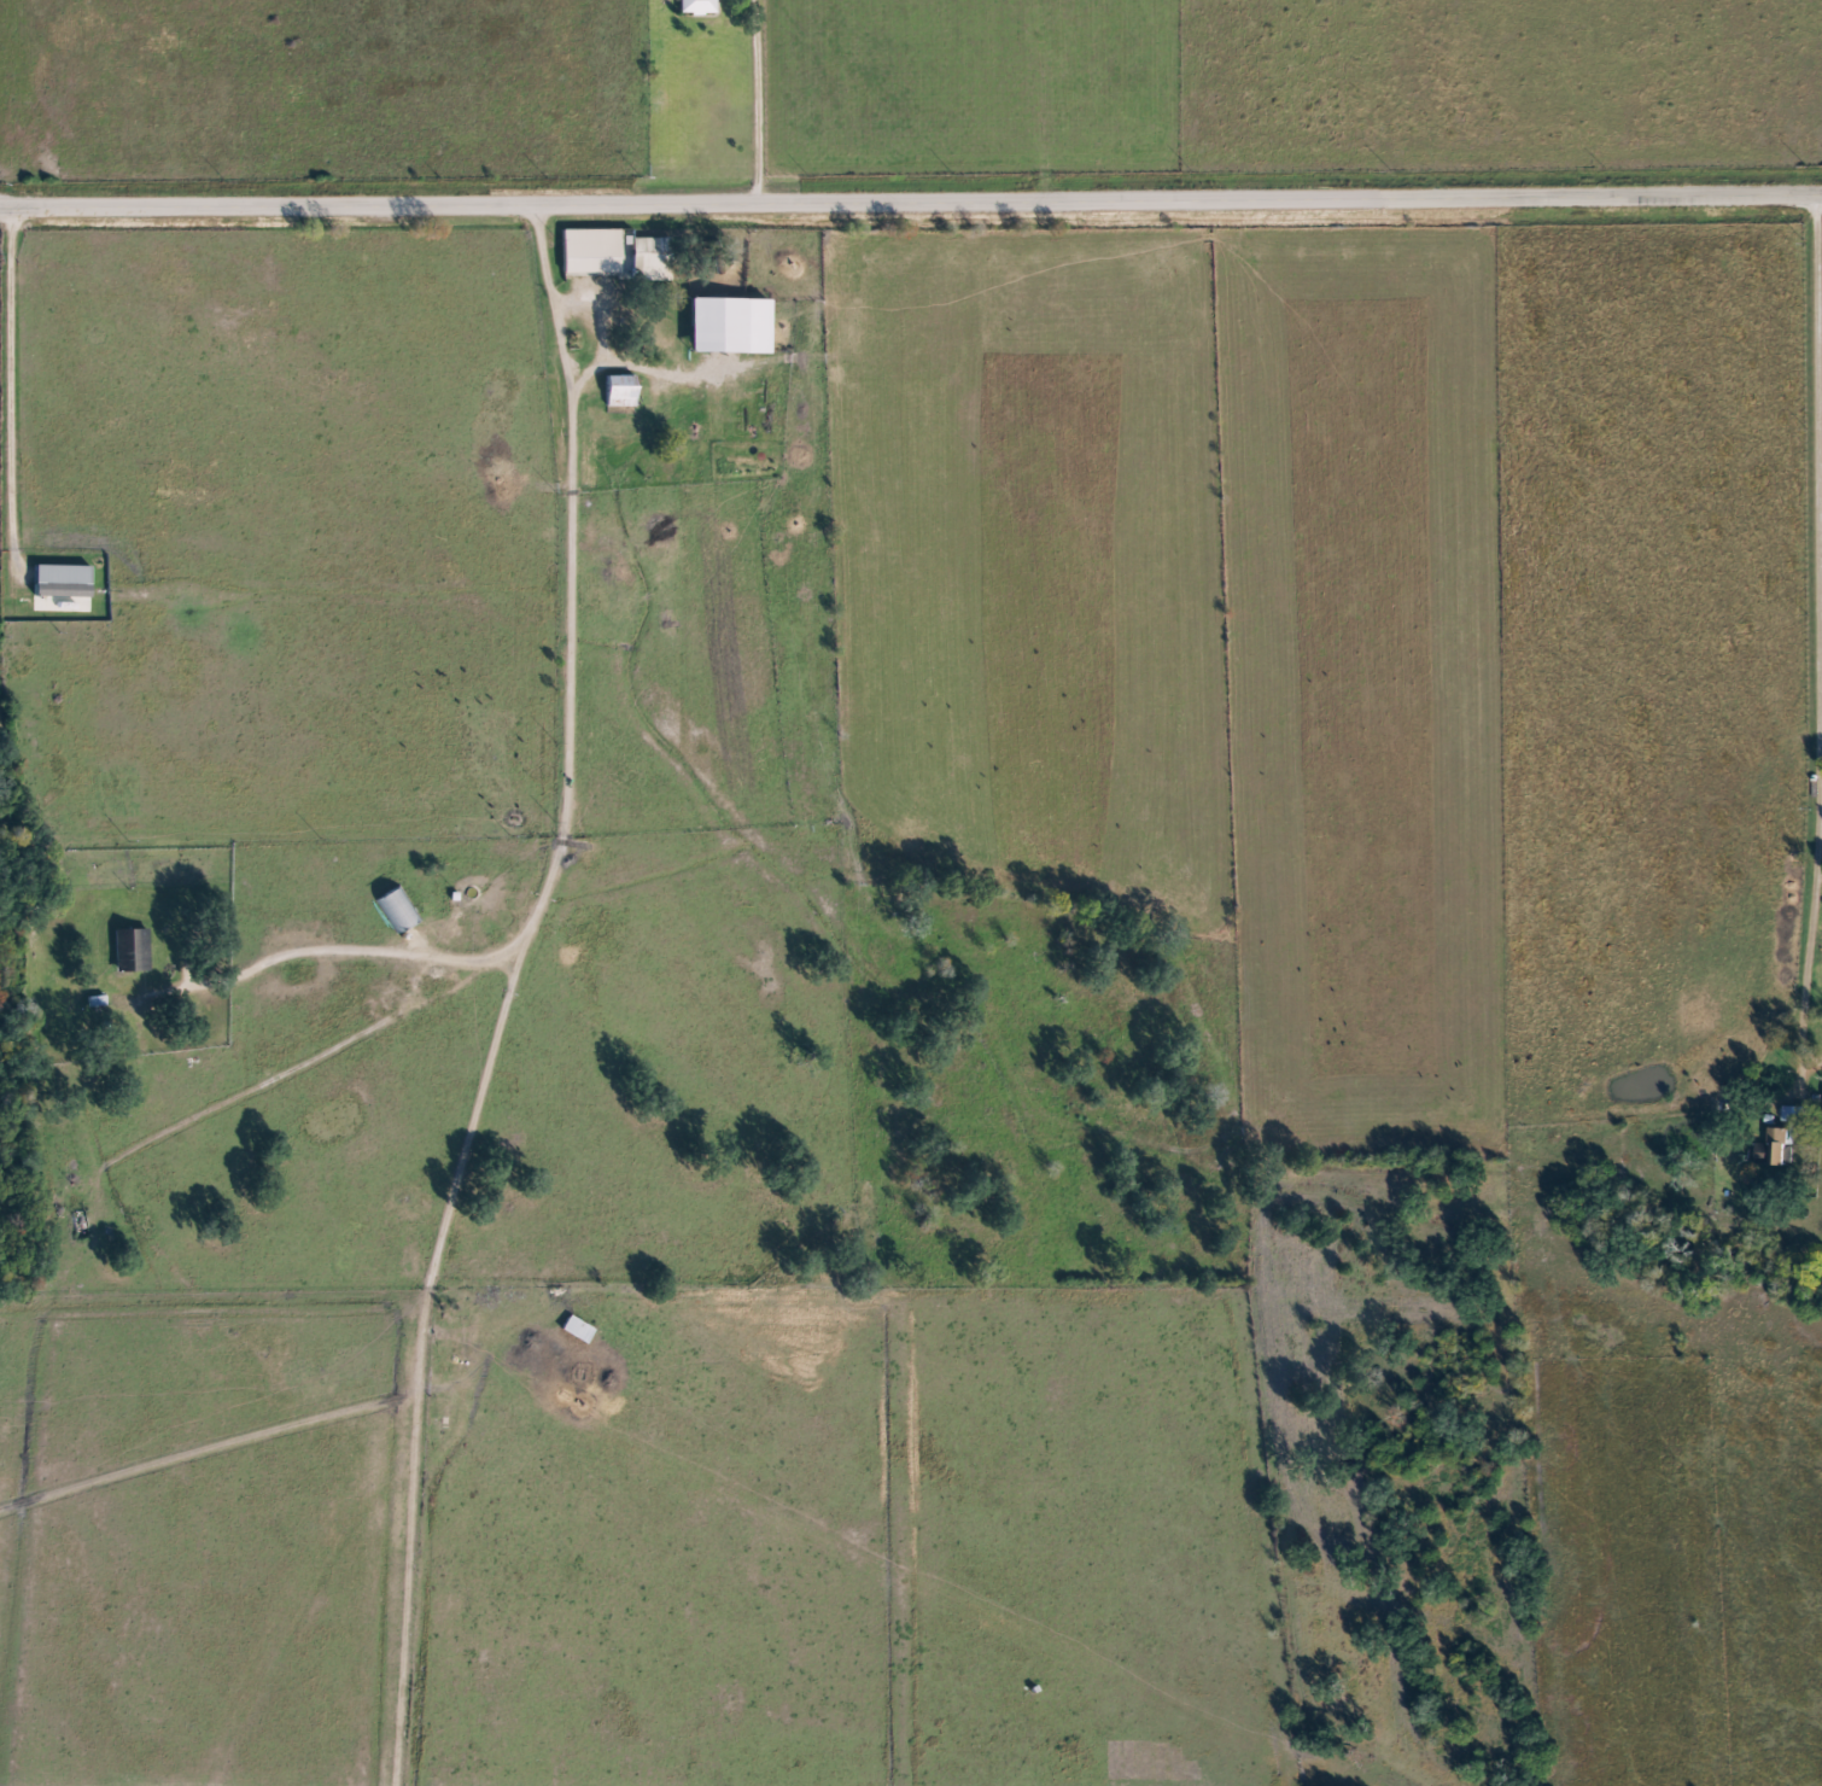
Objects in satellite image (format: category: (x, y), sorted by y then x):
building: (699, 7)
road: (21, 101)
road: (910, 194)
building: (597, 253)
building: (731, 327)
building: (64, 589)
building: (399, 911)
building: (133, 951)
building: (1797, 1115)
building: (1776, 1149)

